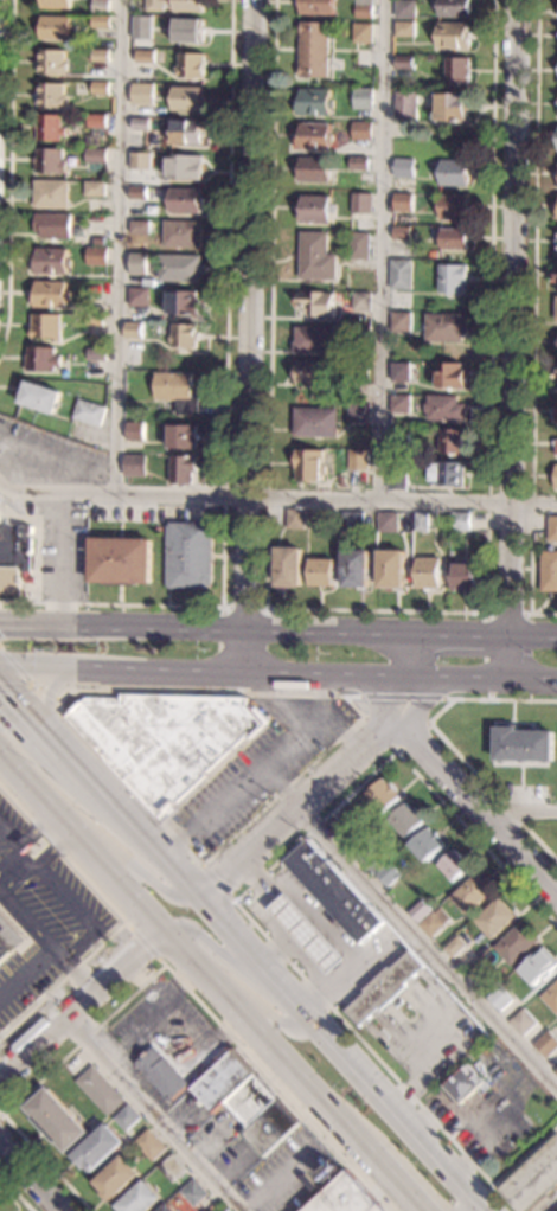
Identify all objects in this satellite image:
building: (55, 4)
building: (101, 5)
building: (175, 5)
building: (316, 7)
building: (364, 8)
building: (455, 8)
building: (405, 9)
building: (101, 21)
building: (143, 21)
building: (55, 27)
building: (405, 28)
building: (188, 30)
building: (363, 33)
building: (454, 36)
building: (314, 50)
building: (100, 56)
building: (145, 56)
building: (52, 62)
building: (404, 62)
building: (190, 66)
building: (459, 70)
building: (100, 88)
building: (142, 94)
building: (51, 95)
building: (187, 98)
building: (363, 98)
building: (314, 102)
building: (406, 104)
building: (452, 107)
building: (96, 124)
building: (141, 124)
building: (50, 128)
building: (361, 130)
building: (187, 133)
building: (314, 136)
building: (96, 160)
building: (50, 161)
building: (140, 161)
building: (359, 164)
building: (184, 166)
building: (404, 168)
building: (316, 169)
building: (455, 173)
road: (11, 177)
building: (95, 188)
building: (139, 193)
building: (51, 194)
building: (186, 200)
building: (404, 203)
building: (361, 204)
building: (455, 206)
building: (316, 209)
building: (411, 218)
building: (53, 225)
building: (140, 228)
building: (183, 233)
building: (402, 233)
building: (454, 238)
building: (102, 243)
building: (359, 245)
building: (403, 245)
road: (121, 246)
road: (384, 250)
building: (97, 256)
building: (316, 256)
building: (51, 261)
building: (137, 264)
building: (180, 268)
building: (401, 274)
building: (556, 275)
building: (453, 278)
building: (556, 282)
building: (51, 294)
building: (139, 297)
building: (361, 301)
building: (184, 302)
building: (316, 303)
building: (556, 308)
road: (514, 319)
road: (534, 319)
building: (401, 322)
building: (94, 325)
building: (46, 327)
building: (446, 327)
building: (134, 329)
building: (359, 334)
building: (185, 335)
road: (249, 339)
building: (316, 340)
building: (97, 354)
building: (43, 359)
building: (359, 370)
building: (310, 372)
building: (403, 372)
building: (450, 376)
building: (555, 380)
building: (556, 386)
building: (179, 391)
building: (41, 397)
building: (401, 403)
building: (444, 408)
building: (90, 412)
building: (358, 412)
road: (225, 415)
building: (556, 418)
building: (316, 422)
building: (136, 431)
building: (184, 437)
building: (401, 437)
building: (453, 441)
building: (556, 448)
road: (60, 460)
building: (358, 460)
building: (310, 464)
building: (135, 466)
building: (184, 469)
building: (447, 473)
building: (397, 475)
building: (556, 478)
road: (277, 498)
building: (296, 519)
building: (318, 519)
building: (388, 521)
building: (461, 521)
building: (421, 523)
building: (354, 524)
building: (552, 528)
building: (159, 530)
building: (14, 556)
building: (190, 556)
road: (63, 557)
building: (122, 560)
building: (290, 566)
building: (357, 569)
building: (392, 569)
building: (549, 571)
building: (321, 572)
building: (429, 572)
building: (465, 577)
road: (245, 607)
road: (379, 610)
road: (204, 626)
road: (487, 633)
road: (459, 636)
road: (533, 637)
road: (512, 661)
road: (277, 679)
road: (28, 680)
road: (46, 692)
road: (324, 697)
road: (406, 698)
road: (275, 706)
road: (41, 710)
road: (31, 719)
road: (341, 735)
building: (167, 741)
road: (447, 742)
building: (524, 745)
road: (396, 752)
road: (102, 761)
road: (89, 780)
road: (334, 782)
road: (241, 783)
road: (281, 788)
building: (384, 795)
road: (478, 812)
road: (523, 813)
building: (406, 820)
road: (37, 833)
building: (350, 833)
road: (82, 840)
building: (428, 845)
road: (12, 847)
building: (364, 850)
road: (57, 854)
building: (453, 866)
road: (174, 869)
building: (373, 869)
road: (12, 871)
building: (389, 876)
road: (149, 880)
road: (218, 882)
road: (247, 889)
building: (334, 892)
building: (470, 893)
road: (59, 895)
building: (421, 912)
road: (116, 916)
building: (493, 918)
road: (27, 923)
building: (433, 925)
building: (307, 935)
building: (9, 937)
road: (142, 943)
building: (516, 944)
road: (78, 946)
road: (216, 948)
building: (454, 948)
road: (428, 952)
road: (192, 959)
building: (537, 967)
road: (156, 972)
building: (478, 972)
road: (72, 973)
road: (27, 976)
building: (384, 988)
building: (499, 999)
building: (551, 999)
road: (82, 1000)
road: (265, 1012)
building: (521, 1024)
building: (545, 1045)
road: (295, 1070)
building: (556, 1070)
road: (360, 1071)
building: (161, 1074)
building: (556, 1074)
building: (465, 1084)
building: (100, 1091)
building: (245, 1101)
road: (154, 1113)
road: (0, 1114)
building: (126, 1119)
building: (56, 1121)
building: (196, 1140)
building: (149, 1146)
building: (97, 1149)
building: (172, 1168)
road: (27, 1178)
building: (115, 1179)
road: (396, 1180)
building: (534, 1180)
road: (14, 1193)
building: (192, 1193)
building: (346, 1198)
building: (140, 1199)
building: (166, 1209)
road: (53, 1210)
building: (226, 1210)

